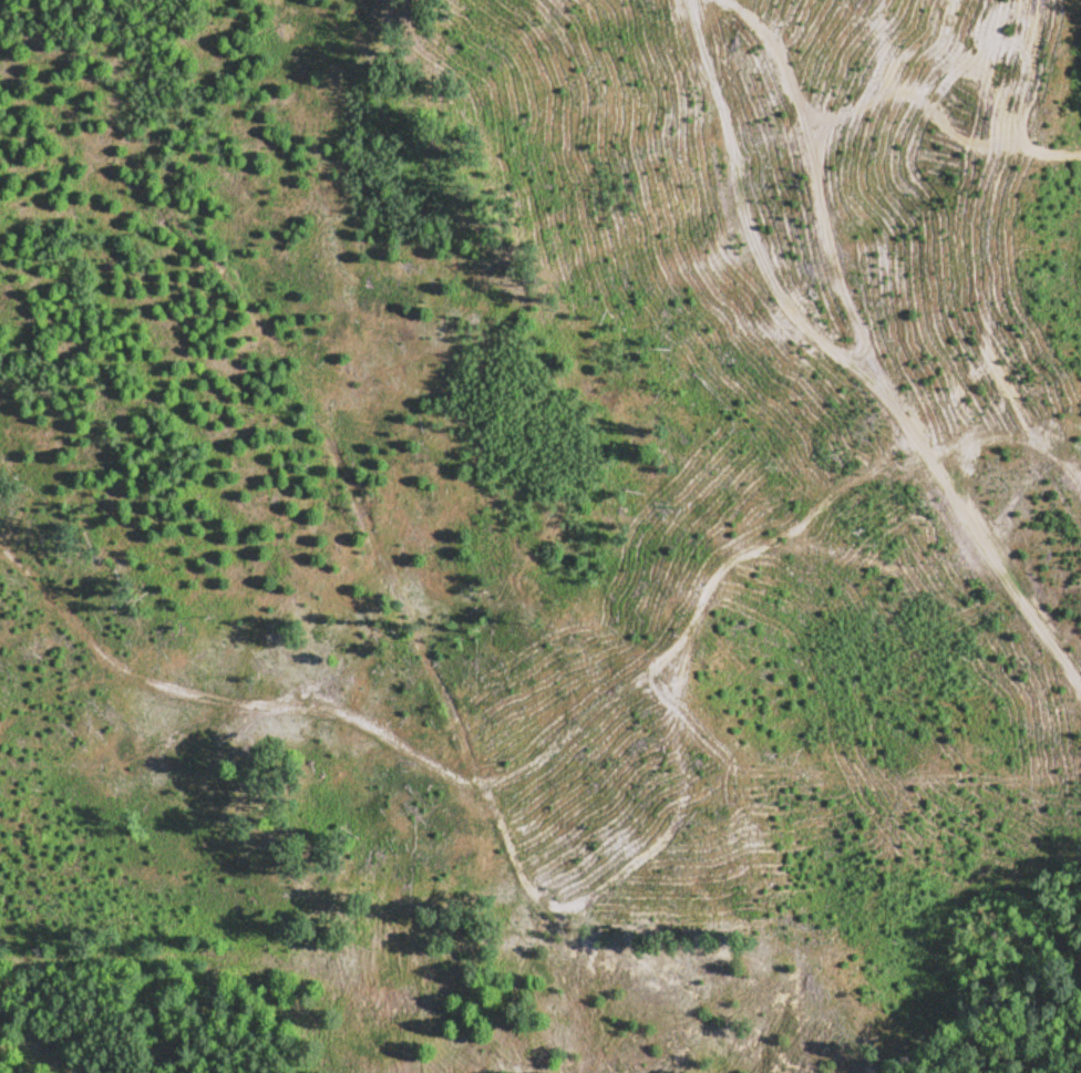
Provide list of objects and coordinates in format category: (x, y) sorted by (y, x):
road: (875, 91)
road: (866, 365)

